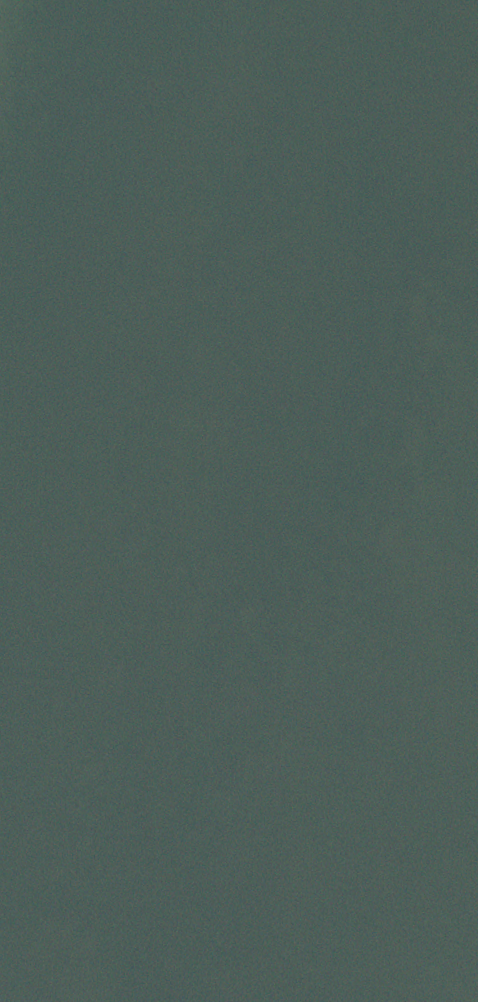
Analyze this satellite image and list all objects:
river: (300, 503)

